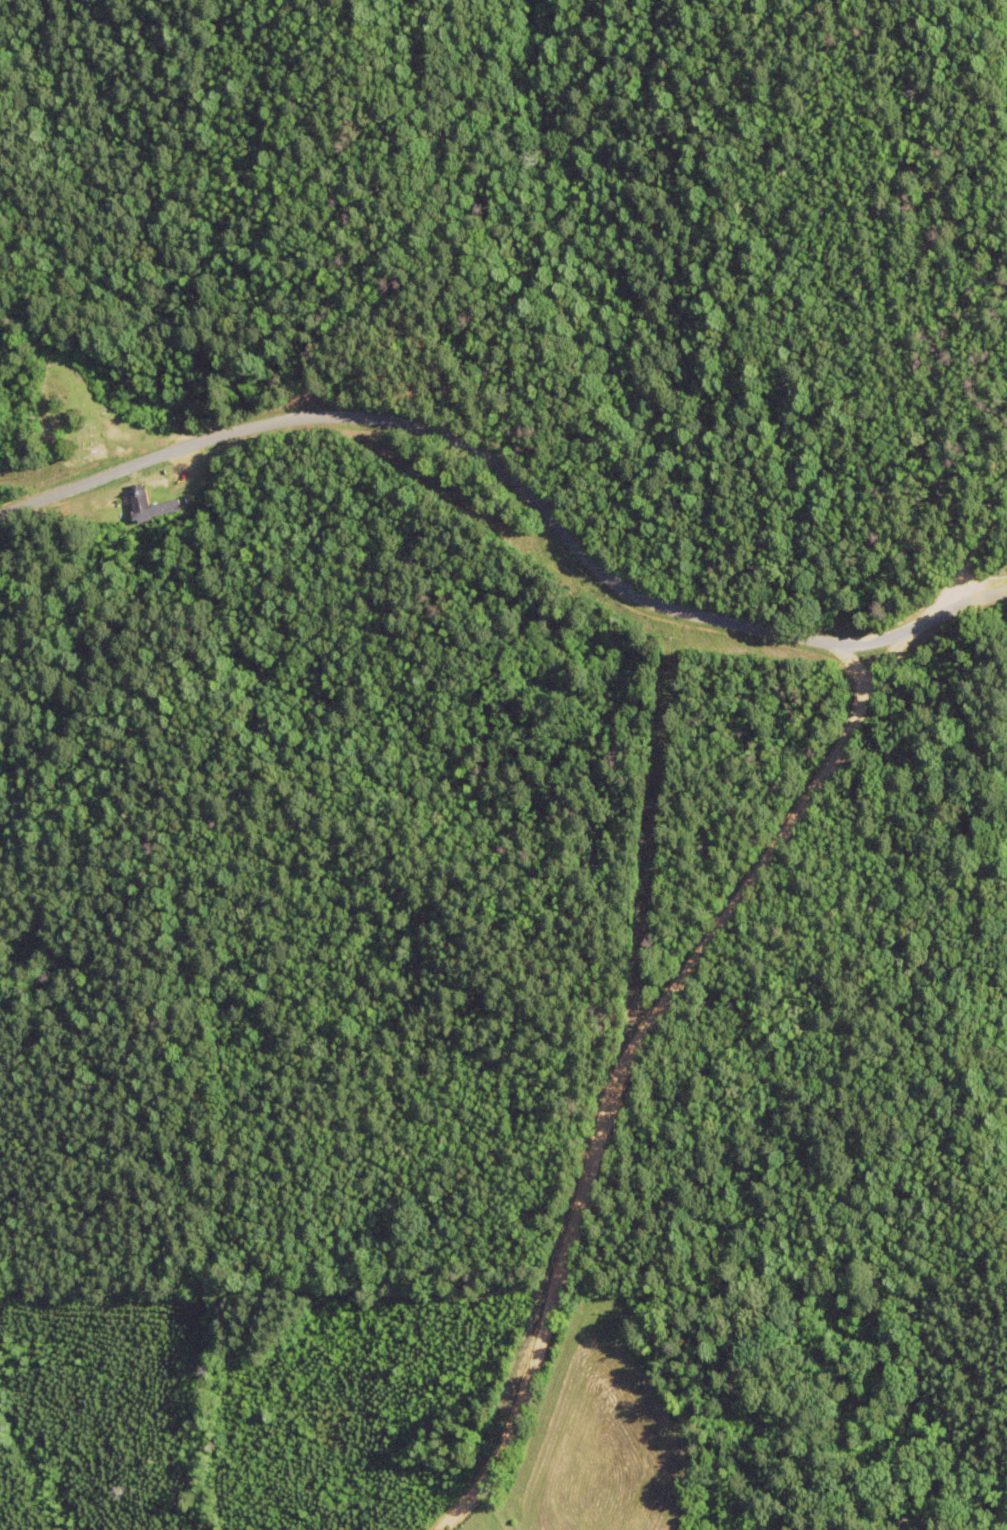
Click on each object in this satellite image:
road: (525, 463)
building: (153, 505)
road: (972, 587)
road: (663, 1067)
road: (543, 1492)

